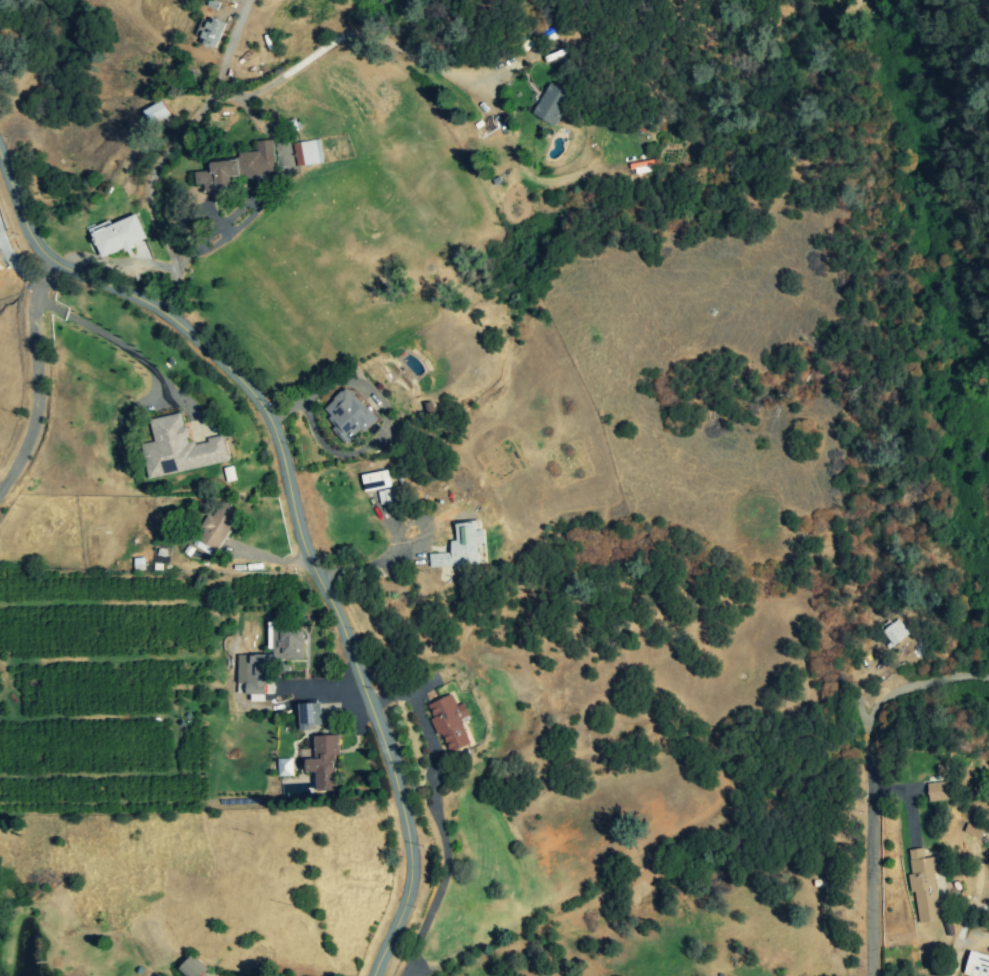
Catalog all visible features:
building: (208, 32)
road: (226, 46)
road: (236, 100)
building: (551, 104)
building: (157, 114)
road: (282, 151)
building: (308, 152)
building: (238, 168)
road: (216, 217)
road: (224, 219)
road: (231, 230)
building: (118, 236)
road: (184, 260)
road: (15, 263)
road: (103, 334)
road: (33, 378)
building: (347, 414)
road: (371, 440)
building: (178, 448)
building: (375, 480)
road: (294, 518)
building: (216, 526)
building: (461, 547)
road: (368, 565)
building: (895, 632)
building: (269, 659)
road: (910, 686)
building: (309, 715)
building: (449, 721)
building: (324, 761)
building: (284, 767)
building: (937, 791)
road: (439, 816)
road: (868, 857)
building: (923, 885)
building: (976, 965)
building: (192, 967)

